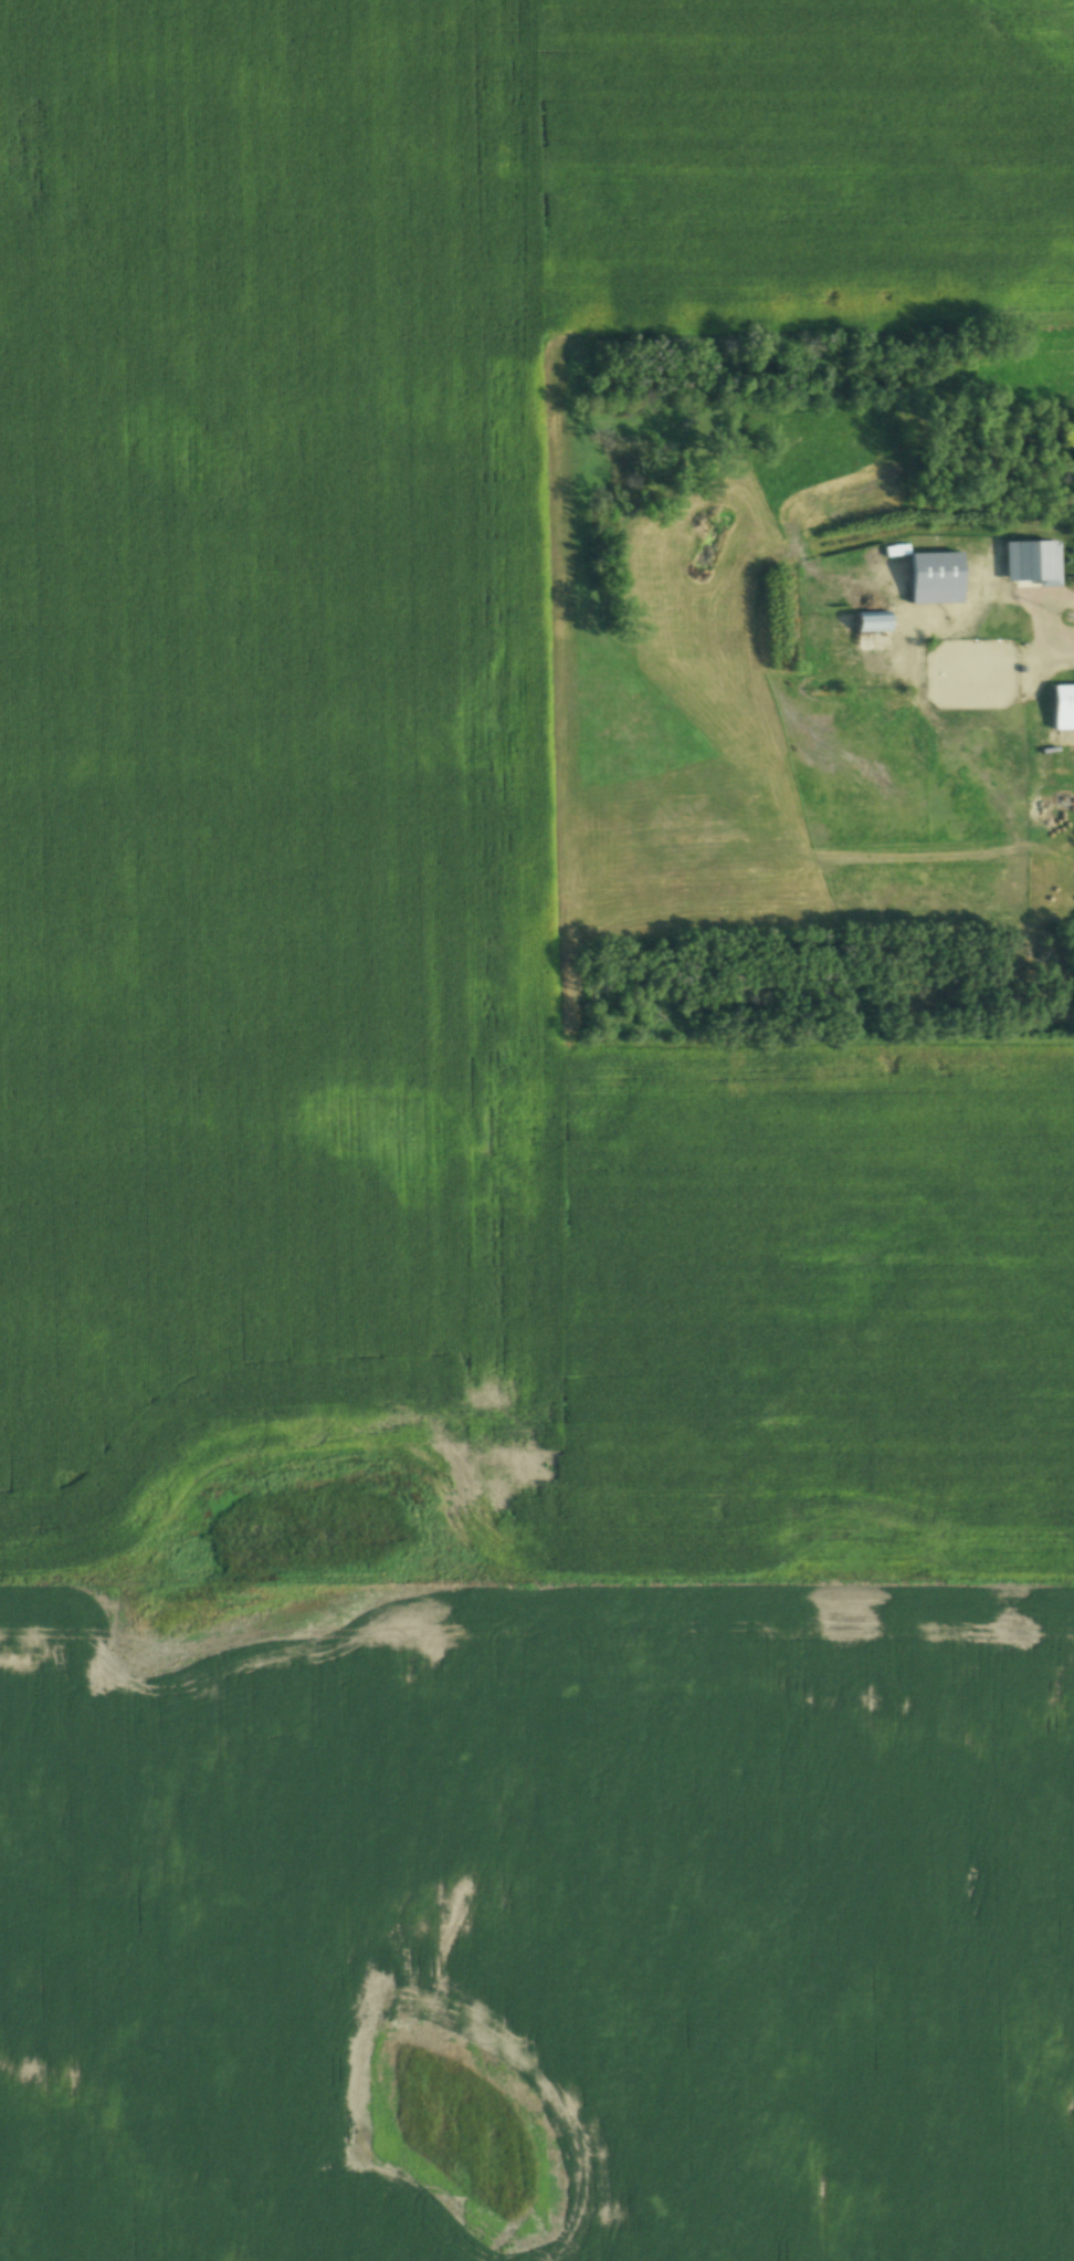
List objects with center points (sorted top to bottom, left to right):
building: (1039, 583)
building: (941, 589)
building: (872, 625)
building: (1063, 703)

